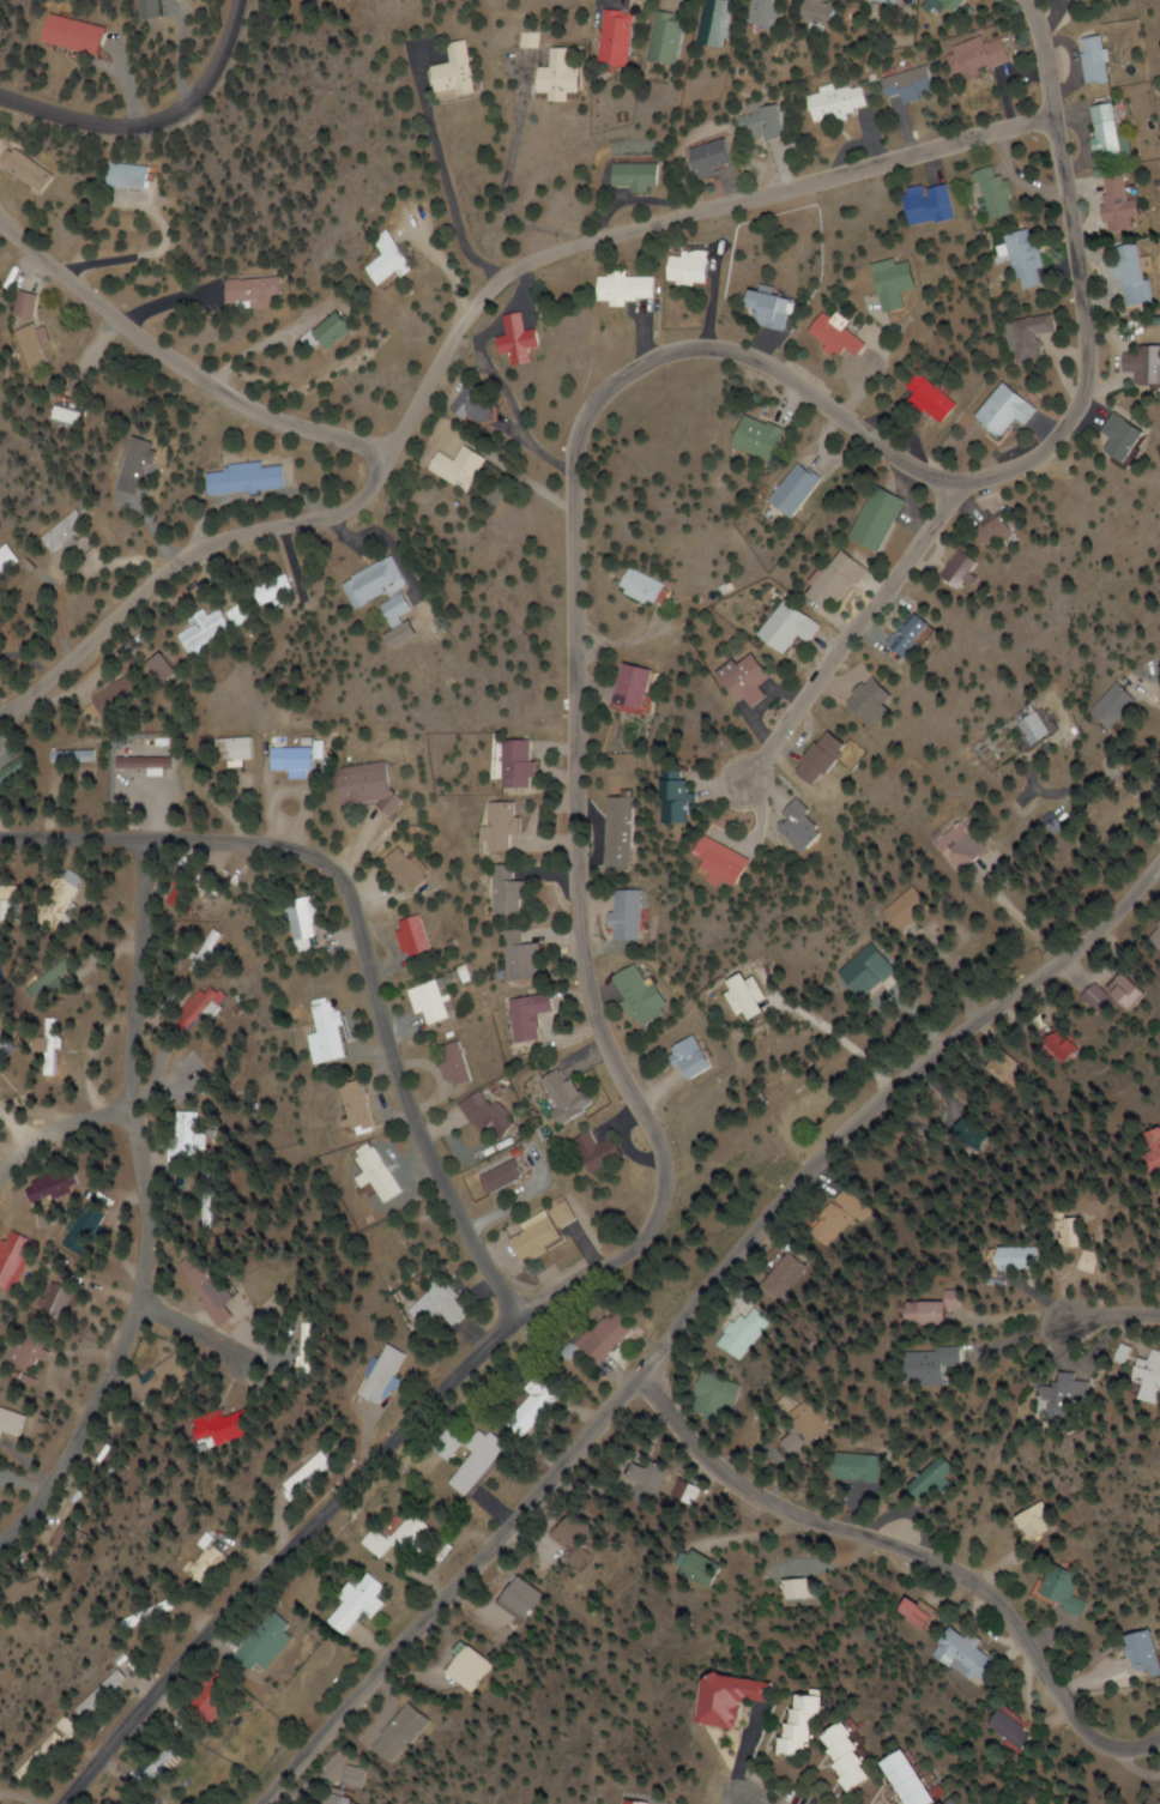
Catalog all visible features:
building: (339, 0)
building: (890, 0)
building: (959, 4)
building: (766, 12)
building: (823, 12)
building: (717, 23)
building: (80, 35)
building: (621, 38)
building: (670, 38)
building: (530, 41)
building: (974, 56)
building: (1092, 59)
building: (455, 71)
building: (563, 77)
building: (907, 84)
building: (834, 101)
road: (152, 122)
building: (766, 122)
building: (1104, 133)
building: (714, 158)
building: (28, 170)
building: (636, 176)
building: (133, 177)
building: (990, 194)
building: (924, 204)
building: (1112, 204)
building: (1020, 258)
building: (389, 261)
building: (690, 267)
building: (1125, 274)
building: (887, 283)
building: (623, 288)
building: (258, 291)
building: (25, 304)
building: (768, 309)
road: (463, 322)
building: (338, 330)
building: (833, 337)
building: (1027, 337)
building: (521, 339)
building: (31, 346)
road: (181, 366)
building: (1136, 366)
building: (930, 398)
building: (479, 404)
building: (999, 410)
building: (74, 416)
building: (750, 436)
building: (1107, 438)
building: (464, 467)
road: (981, 471)
building: (246, 478)
building: (790, 490)
building: (872, 519)
building: (71, 529)
building: (10, 560)
building: (948, 572)
building: (380, 583)
building: (827, 583)
building: (632, 586)
building: (404, 604)
building: (219, 627)
road: (853, 627)
building: (1, 628)
building: (778, 628)
building: (410, 634)
building: (896, 639)
building: (173, 668)
building: (736, 680)
building: (624, 687)
building: (125, 695)
building: (1107, 706)
building: (1022, 725)
building: (241, 752)
building: (74, 756)
building: (295, 760)
building: (809, 760)
building: (518, 764)
building: (13, 771)
building: (146, 771)
building: (371, 785)
building: (664, 802)
building: (501, 827)
building: (786, 827)
building: (618, 832)
building: (955, 845)
building: (706, 862)
building: (411, 869)
building: (512, 891)
building: (13, 900)
building: (899, 910)
building: (624, 913)
building: (307, 918)
road: (367, 935)
building: (422, 935)
building: (1158, 935)
road: (584, 949)
building: (527, 958)
building: (4, 960)
building: (858, 972)
building: (58, 977)
building: (1123, 992)
building: (628, 995)
building: (733, 997)
building: (218, 1001)
building: (436, 1003)
building: (531, 1015)
building: (333, 1028)
building: (1071, 1042)
building: (681, 1058)
building: (460, 1063)
building: (213, 1064)
building: (1023, 1069)
building: (570, 1097)
building: (365, 1109)
building: (499, 1117)
road: (56, 1129)
building: (974, 1129)
building: (187, 1150)
building: (1149, 1151)
building: (600, 1152)
building: (388, 1176)
building: (509, 1177)
building: (55, 1185)
road: (144, 1212)
building: (827, 1215)
building: (550, 1236)
building: (1013, 1257)
building: (16, 1260)
building: (778, 1272)
building: (216, 1291)
building: (64, 1299)
building: (445, 1307)
road: (683, 1310)
building: (944, 1311)
road: (1074, 1325)
building: (738, 1332)
road: (199, 1333)
building: (603, 1334)
building: (32, 1351)
building: (943, 1364)
building: (1150, 1371)
building: (174, 1375)
building: (393, 1375)
building: (1070, 1398)
building: (537, 1404)
building: (13, 1423)
building: (241, 1426)
building: (121, 1449)
building: (475, 1461)
building: (862, 1467)
building: (0, 1468)
building: (310, 1474)
building: (636, 1480)
building: (934, 1480)
building: (89, 1516)
building: (1037, 1524)
building: (564, 1533)
building: (407, 1534)
road: (280, 1551)
building: (209, 1561)
road: (907, 1563)
building: (691, 1567)
building: (781, 1588)
building: (1062, 1588)
building: (513, 1598)
building: (357, 1604)
building: (902, 1613)
building: (268, 1641)
building: (1142, 1654)
building: (945, 1655)
building: (460, 1669)
building: (0, 1670)
building: (101, 1694)
building: (222, 1696)
building: (726, 1699)
building: (802, 1725)
building: (998, 1730)
building: (393, 1732)
building: (52, 1742)
building: (850, 1758)
building: (153, 1767)
building: (348, 1776)
building: (910, 1780)
building: (1158, 1792)
building: (342, 1797)
building: (948, 1800)
building: (135, 1803)
building: (639, 1803)
road: (743, 1803)

